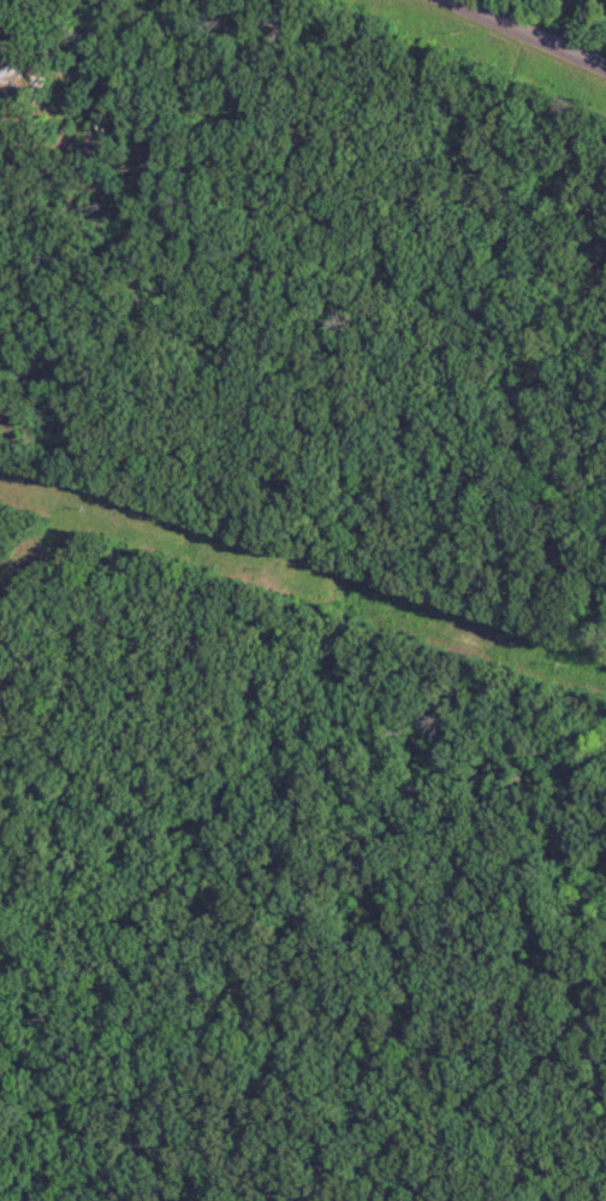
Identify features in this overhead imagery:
road: (528, 34)

